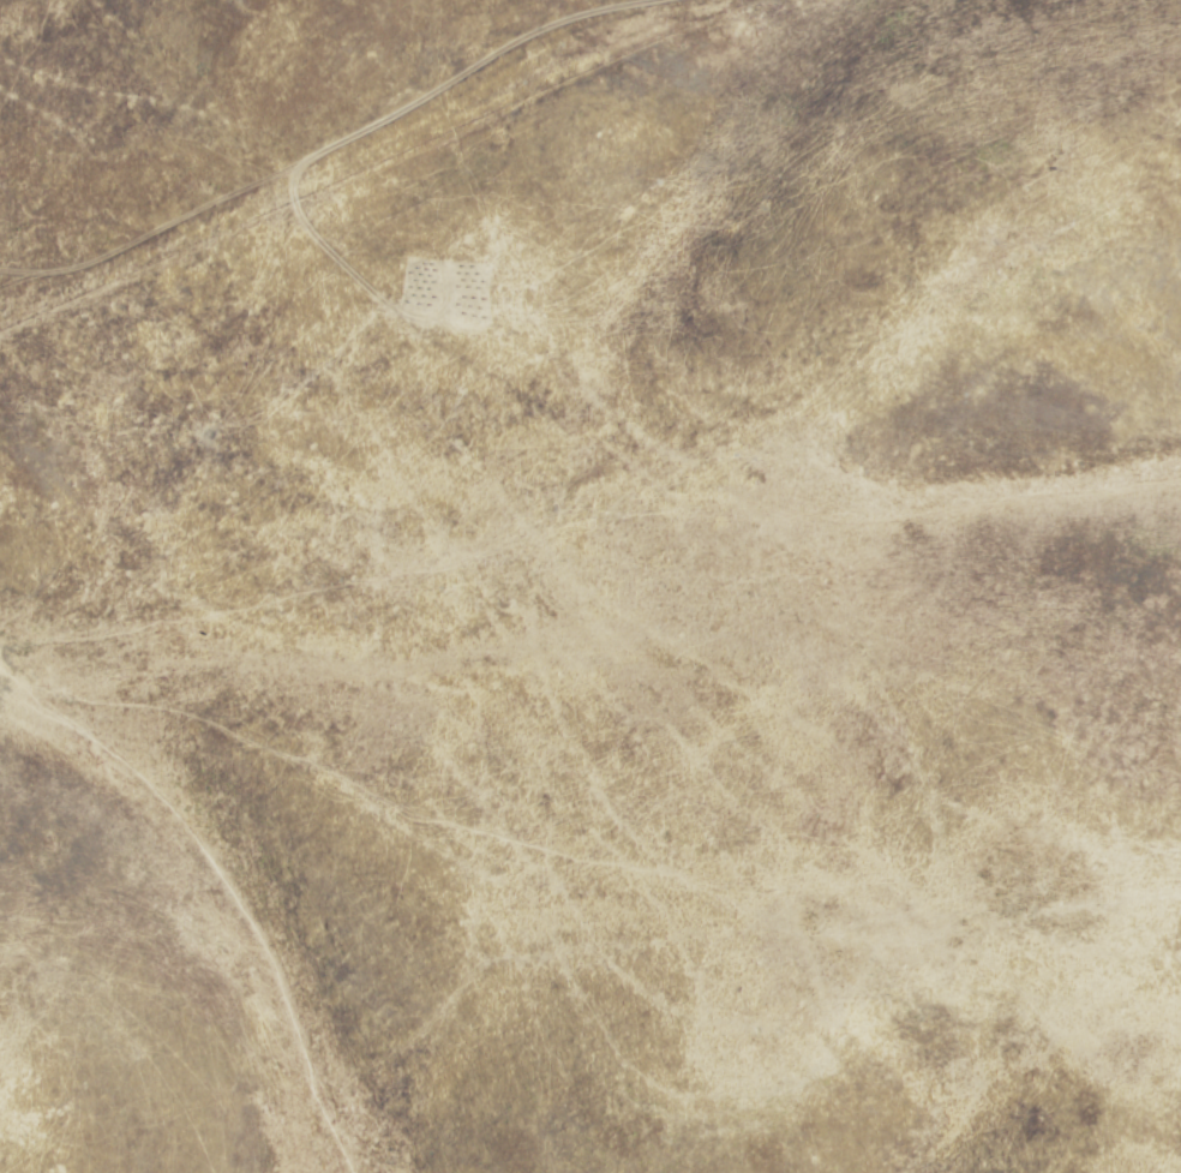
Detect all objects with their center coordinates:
road: (378, 143)

